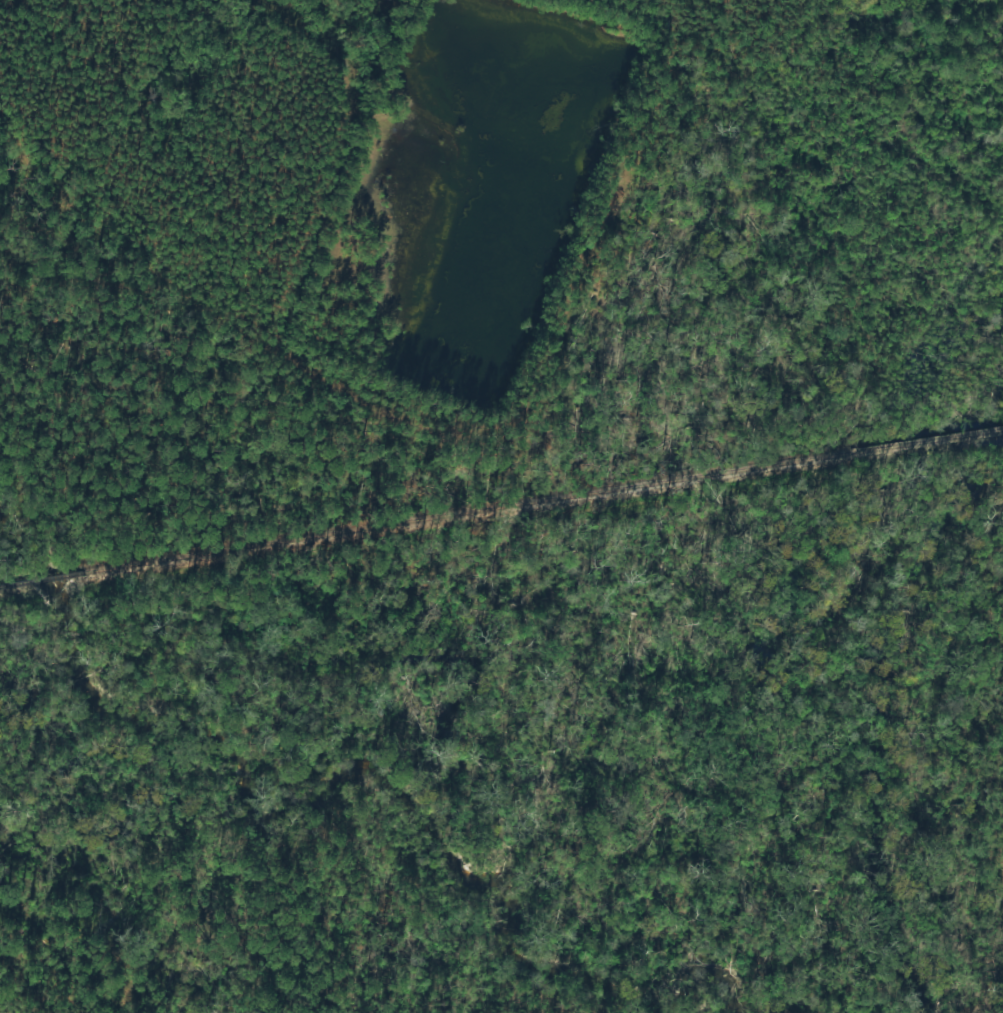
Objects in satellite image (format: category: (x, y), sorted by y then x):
railway: (501, 509)

